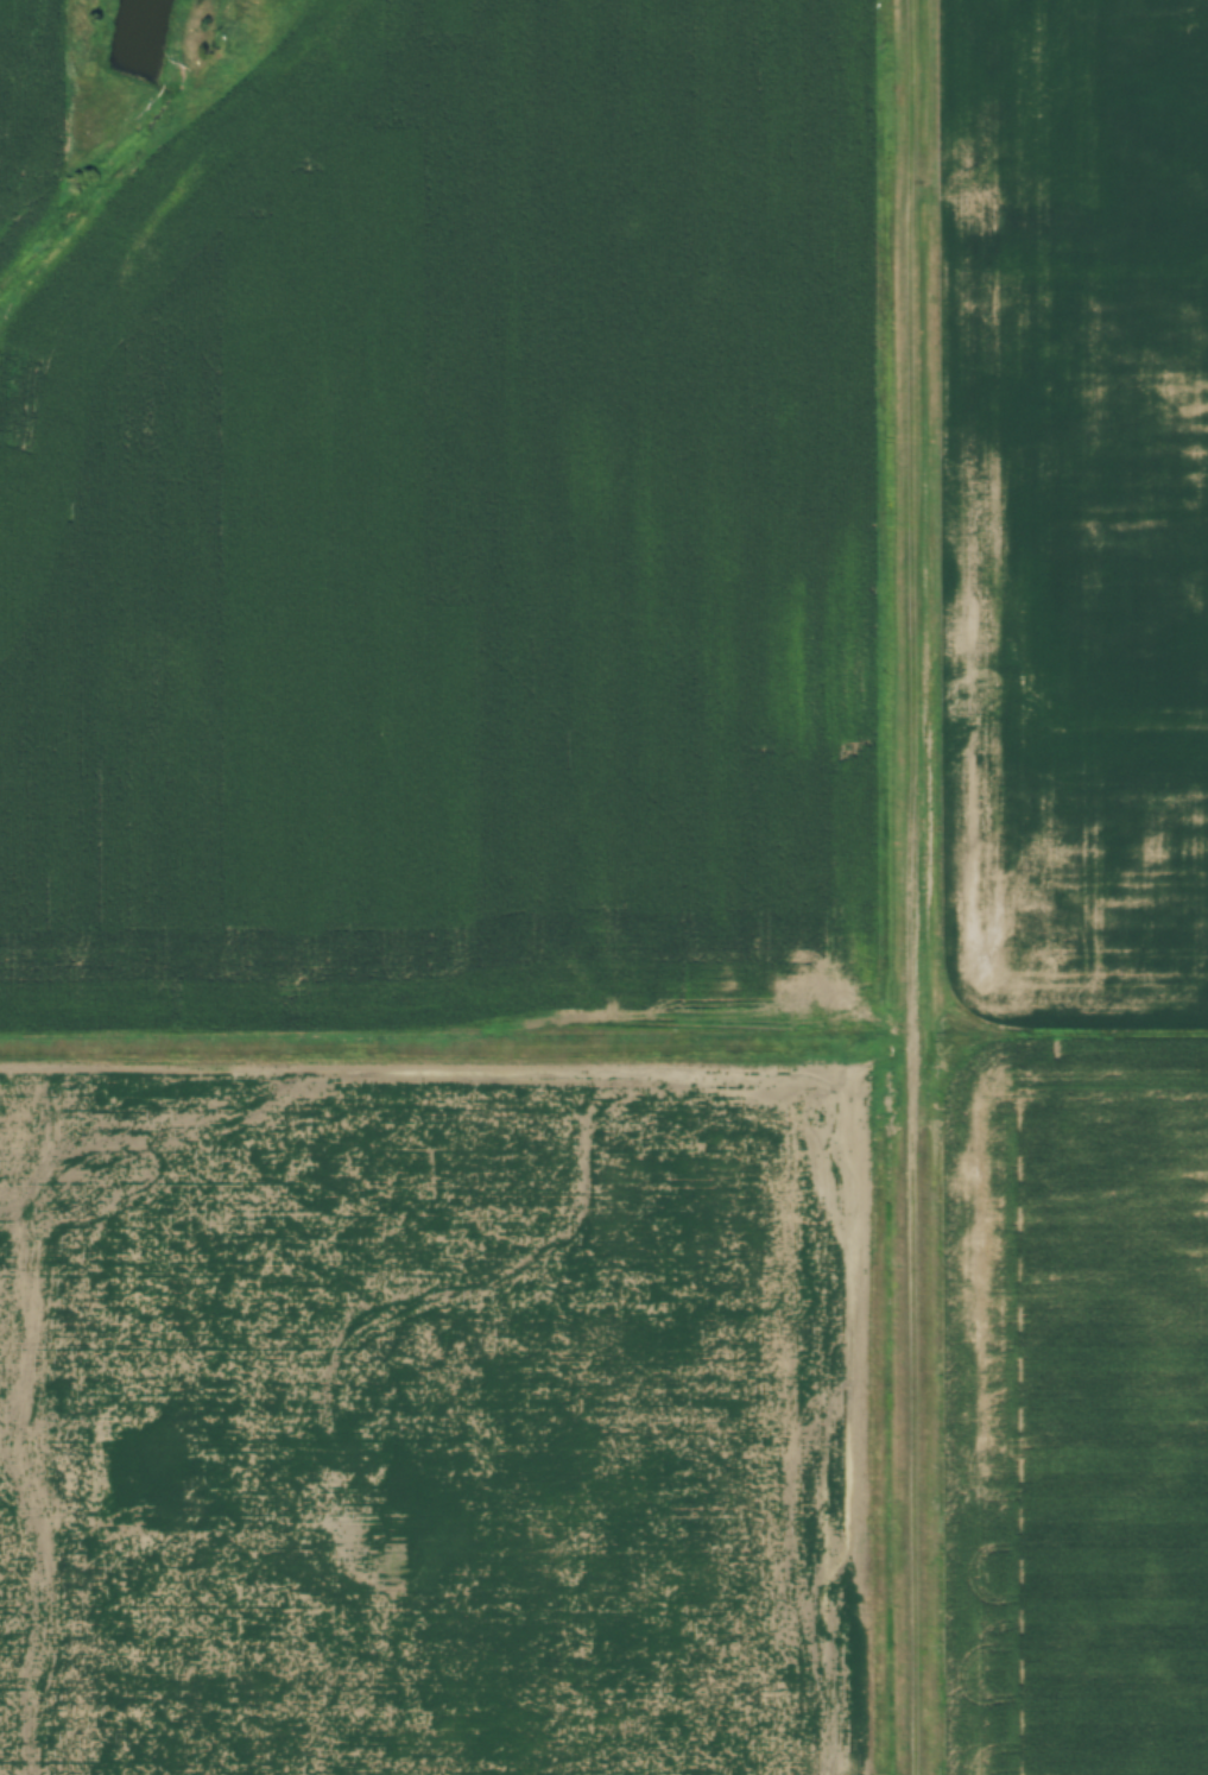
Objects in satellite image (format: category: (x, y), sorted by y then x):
road: (909, 887)

